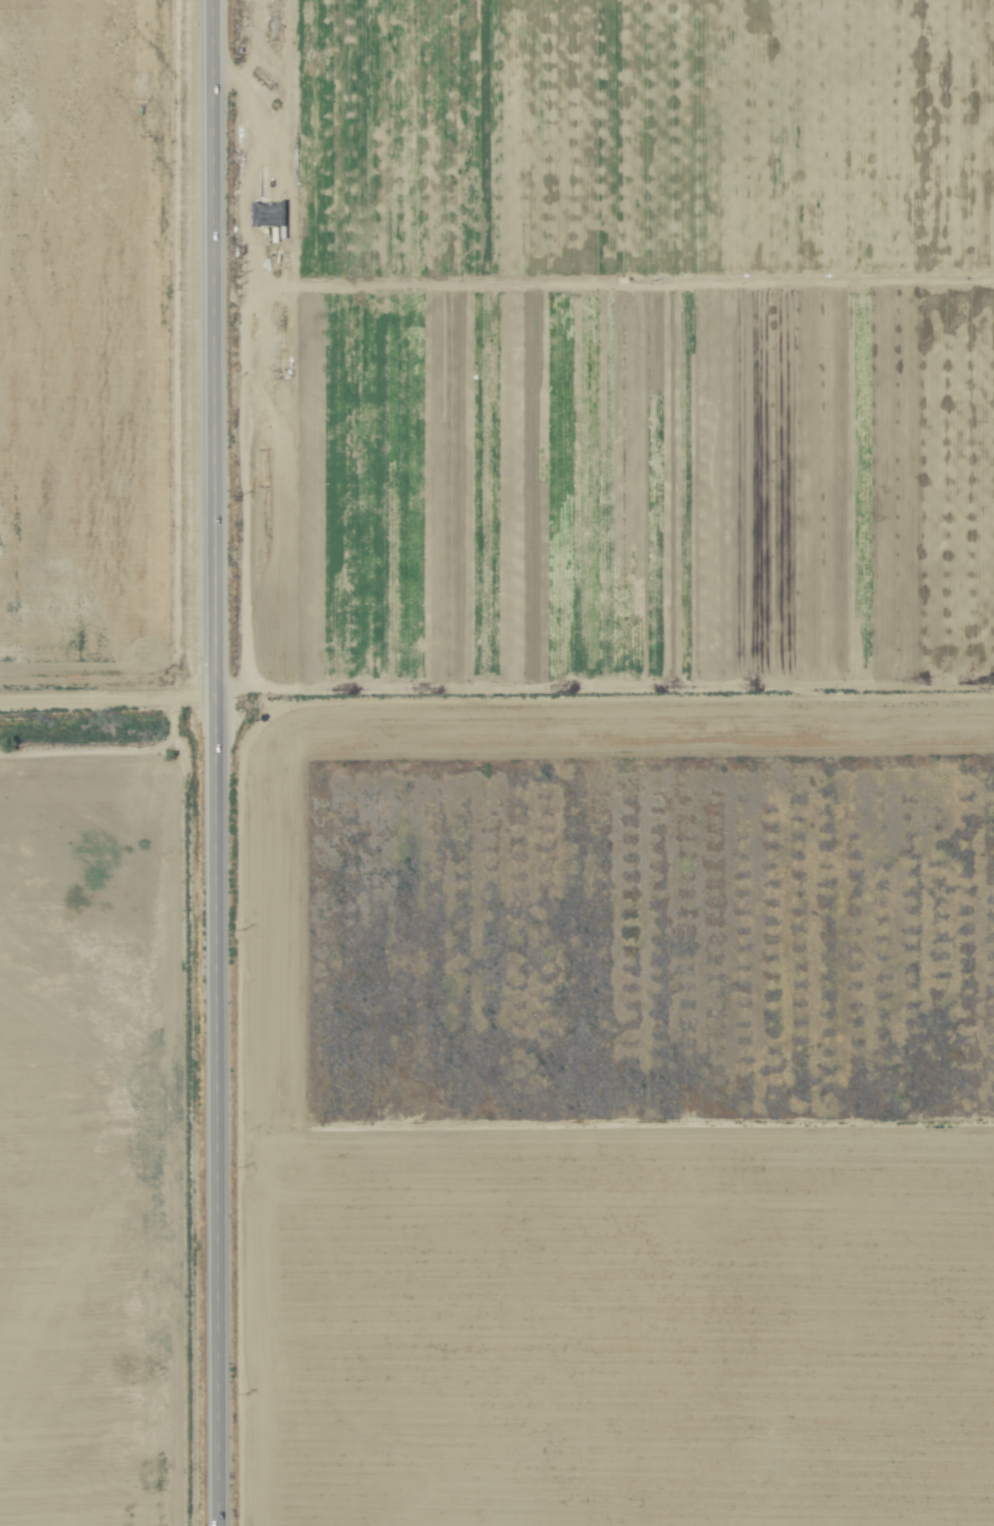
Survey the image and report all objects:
road: (111, 727)
road: (222, 763)

